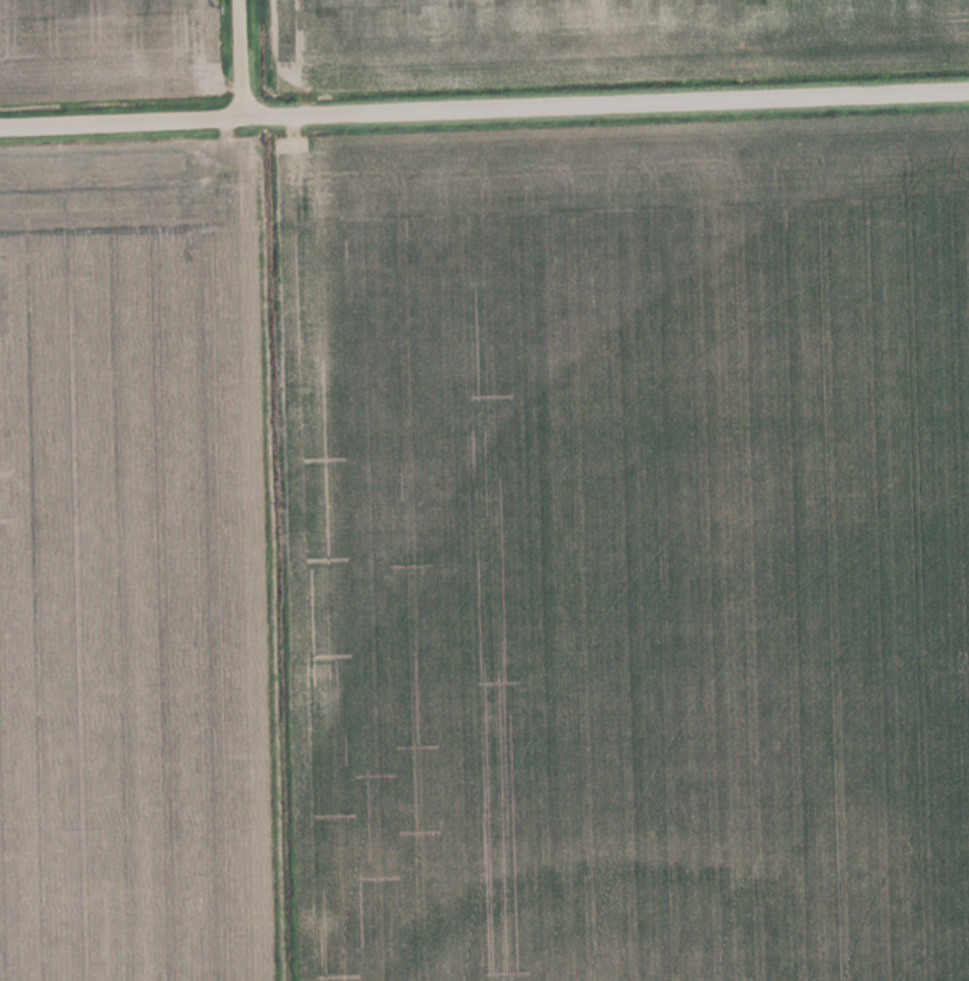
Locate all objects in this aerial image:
road: (259, 58)
road: (614, 102)
road: (130, 120)

